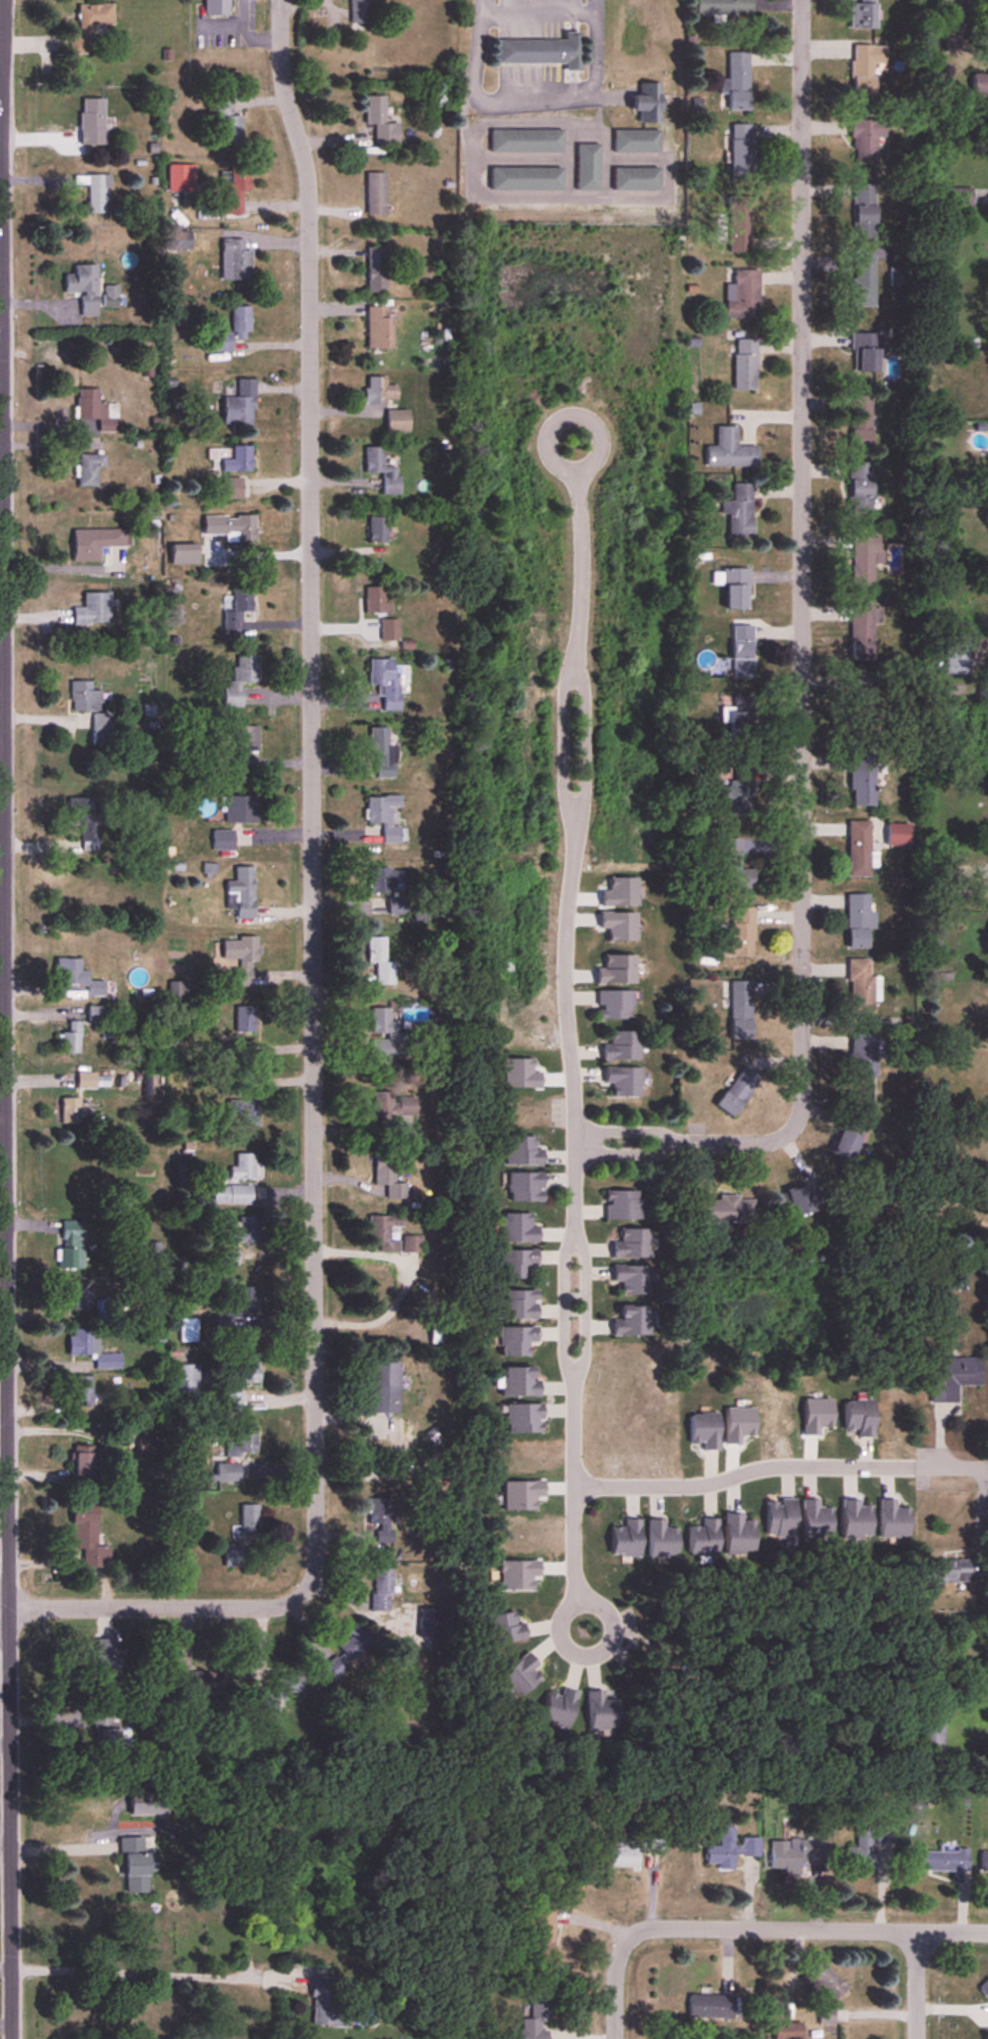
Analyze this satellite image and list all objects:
building: (217, 4)
building: (722, 7)
building: (357, 11)
building: (863, 15)
building: (90, 26)
building: (957, 30)
building: (539, 52)
building: (867, 67)
building: (737, 81)
building: (980, 84)
building: (649, 104)
building: (92, 121)
building: (381, 121)
building: (229, 123)
building: (527, 141)
building: (637, 141)
building: (865, 142)
building: (743, 150)
building: (588, 167)
building: (527, 179)
building: (637, 179)
building: (237, 190)
building: (95, 192)
building: (377, 194)
building: (960, 198)
building: (865, 213)
building: (740, 225)
building: (236, 260)
building: (378, 269)
building: (864, 282)
building: (84, 288)
building: (743, 294)
building: (111, 296)
building: (380, 328)
building: (235, 330)
building: (866, 353)
building: (746, 364)
building: (380, 391)
building: (241, 404)
building: (95, 411)
building: (399, 421)
building: (863, 422)
building: (731, 451)
building: (239, 461)
building: (90, 470)
building: (383, 471)
building: (861, 488)
building: (740, 513)
building: (231, 528)
building: (378, 530)
building: (94, 543)
road: (579, 559)
building: (863, 561)
building: (735, 588)
building: (377, 601)
building: (239, 607)
building: (93, 610)
road: (799, 626)
building: (390, 631)
building: (863, 633)
building: (743, 652)
building: (958, 659)
building: (241, 681)
building: (387, 683)
building: (84, 698)
building: (739, 721)
building: (102, 730)
building: (246, 739)
road: (561, 750)
road: (582, 750)
building: (382, 753)
building: (863, 782)
building: (739, 794)
road: (314, 796)
building: (241, 810)
building: (385, 818)
building: (86, 822)
building: (899, 836)
building: (223, 840)
building: (860, 849)
building: (734, 867)
building: (380, 881)
building: (243, 892)
building: (859, 921)
building: (739, 934)
building: (241, 953)
building: (380, 961)
building: (80, 978)
building: (862, 986)
building: (615, 1004)
building: (741, 1009)
building: (96, 1013)
road: (6, 1019)
road: (570, 1031)
building: (71, 1038)
building: (386, 1038)
building: (622, 1045)
building: (864, 1055)
building: (87, 1080)
building: (624, 1081)
building: (737, 1093)
building: (392, 1107)
building: (73, 1111)
building: (244, 1111)
road: (625, 1134)
building: (848, 1136)
building: (523, 1151)
road: (626, 1153)
building: (245, 1167)
building: (387, 1172)
building: (526, 1187)
building: (232, 1194)
building: (802, 1200)
building: (622, 1204)
building: (725, 1210)
building: (519, 1228)
building: (242, 1231)
building: (382, 1231)
building: (632, 1243)
building: (72, 1245)
building: (229, 1257)
building: (516, 1263)
building: (633, 1279)
building: (82, 1297)
road: (581, 1303)
road: (563, 1304)
building: (519, 1305)
building: (240, 1309)
building: (632, 1321)
building: (517, 1341)
building: (92, 1350)
building: (248, 1370)
building: (955, 1378)
building: (186, 1382)
building: (521, 1382)
building: (384, 1387)
building: (82, 1390)
building: (234, 1402)
building: (860, 1417)
building: (525, 1418)
road: (574, 1429)
building: (706, 1430)
building: (243, 1442)
building: (84, 1464)
road: (779, 1466)
building: (228, 1472)
building: (856, 1519)
building: (381, 1520)
building: (782, 1520)
building: (817, 1520)
building: (894, 1520)
building: (250, 1521)
building: (740, 1535)
building: (89, 1536)
building: (705, 1538)
building: (628, 1539)
building: (663, 1540)
building: (234, 1555)
road: (575, 1556)
building: (953, 1571)
building: (382, 1590)
road: (153, 1608)
building: (505, 1628)
building: (350, 1650)
building: (108, 1663)
building: (518, 1678)
building: (197, 1682)
building: (276, 1693)
building: (561, 1708)
building: (603, 1712)
building: (931, 1735)
building: (108, 1740)
building: (730, 1849)
building: (861, 1850)
building: (796, 1855)
building: (942, 1861)
building: (984, 1862)
building: (137, 1865)
building: (538, 1927)
road: (808, 1929)
road: (137, 1973)
building: (825, 1981)
road: (613, 1985)
road: (913, 1985)
building: (985, 1988)
building: (330, 2002)
building: (711, 2006)
building: (536, 2017)
building: (788, 2031)

